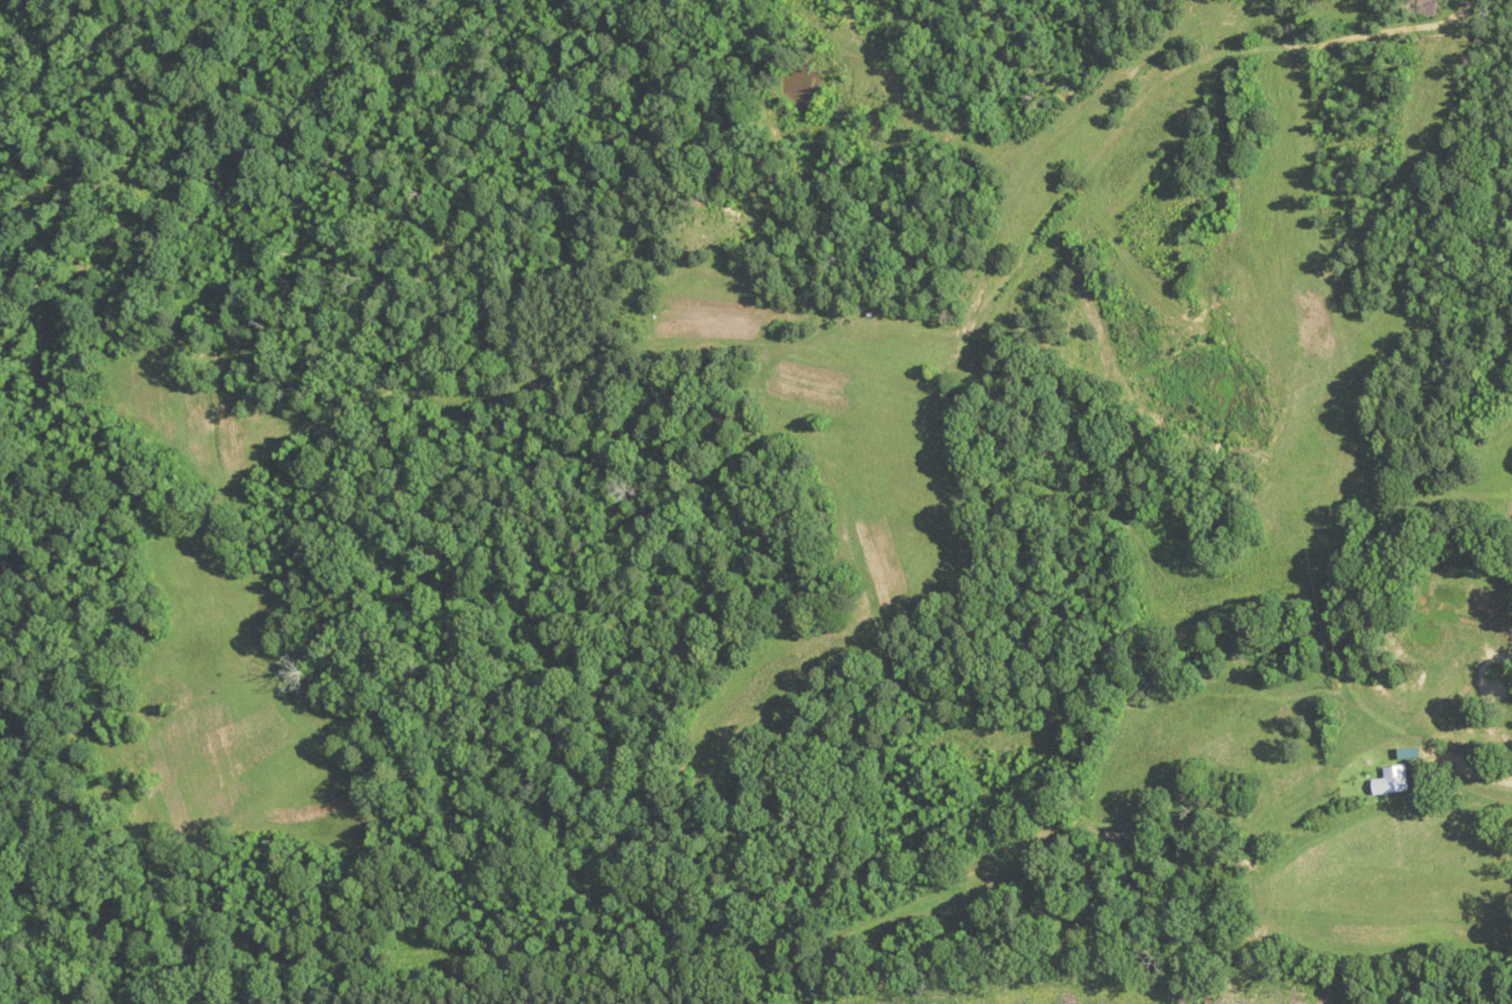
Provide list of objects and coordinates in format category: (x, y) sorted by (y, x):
building: (1409, 751)
building: (1392, 778)

